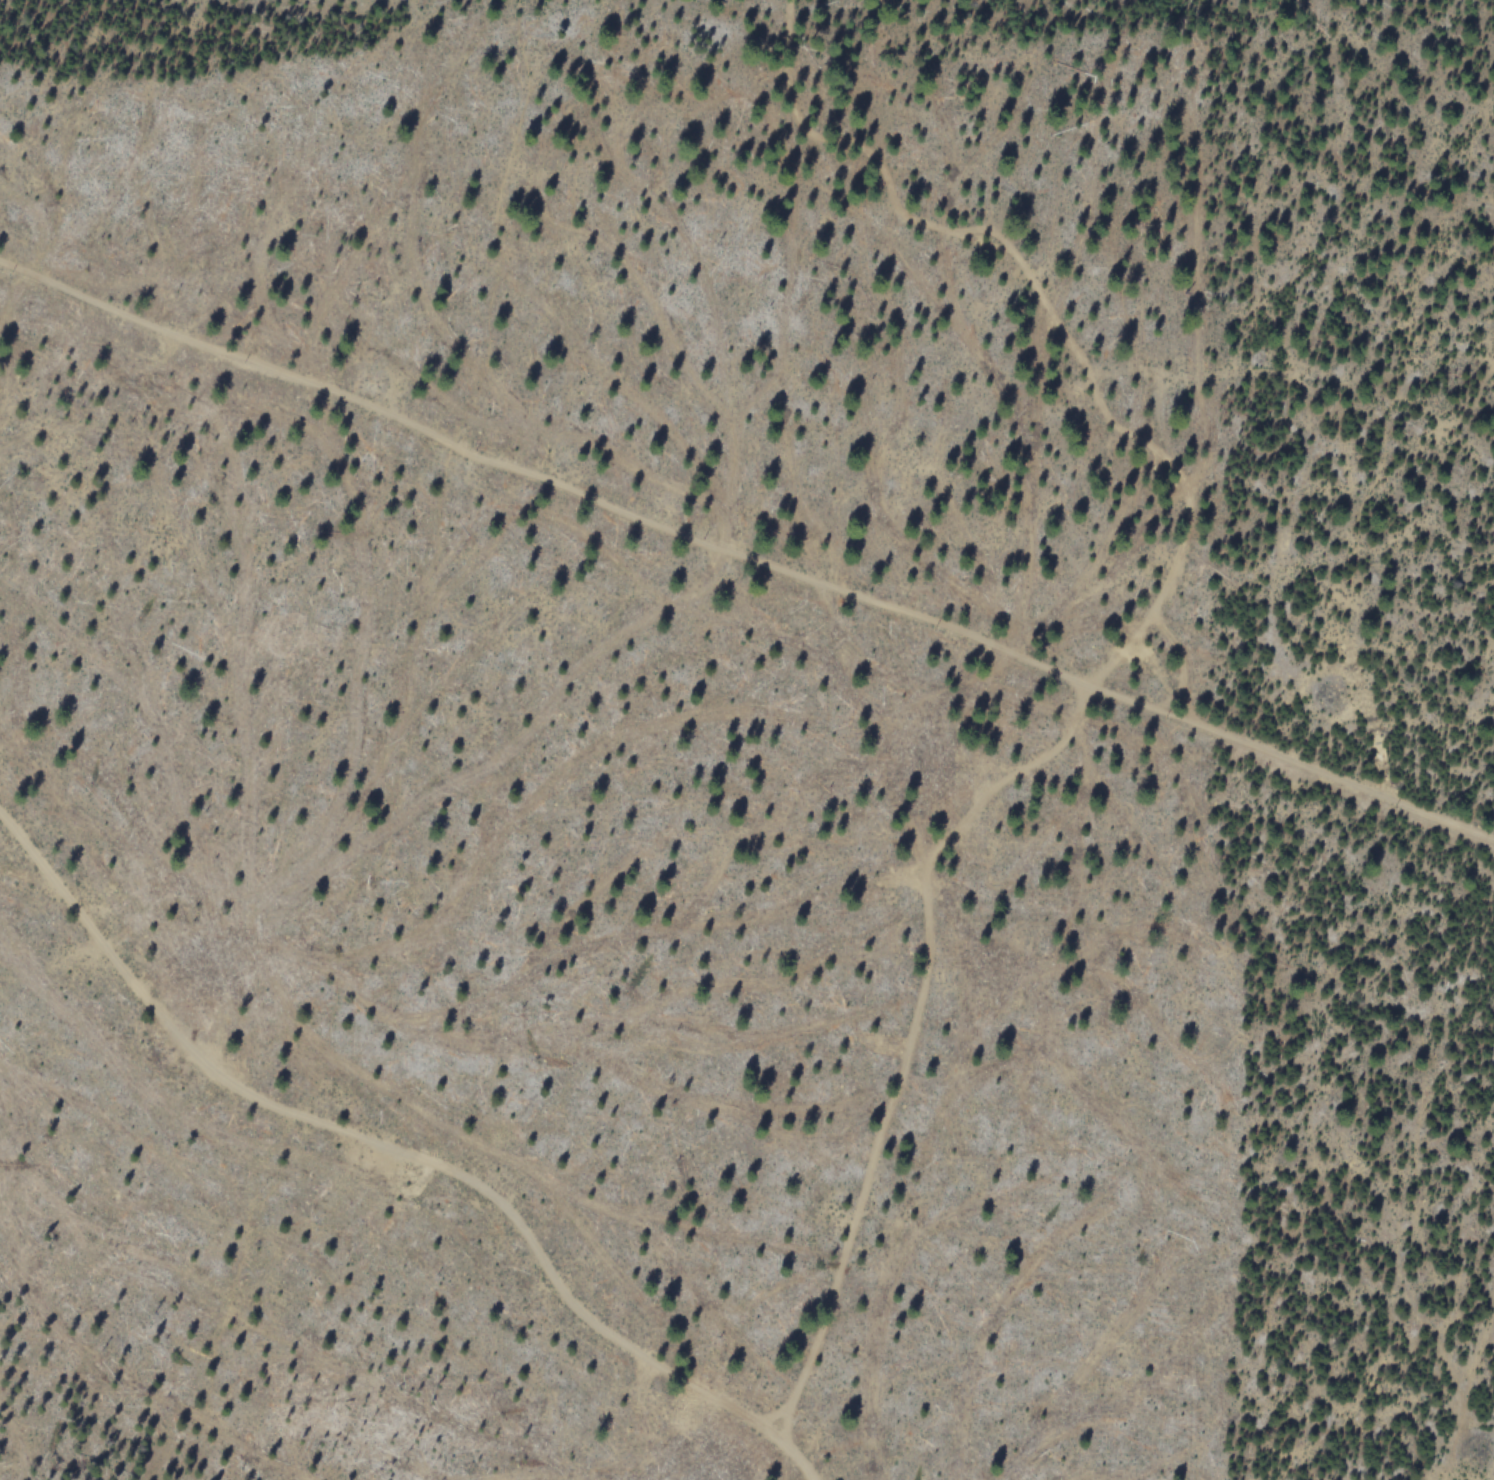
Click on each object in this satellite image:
road: (747, 550)
road: (1099, 688)
road: (377, 1146)

